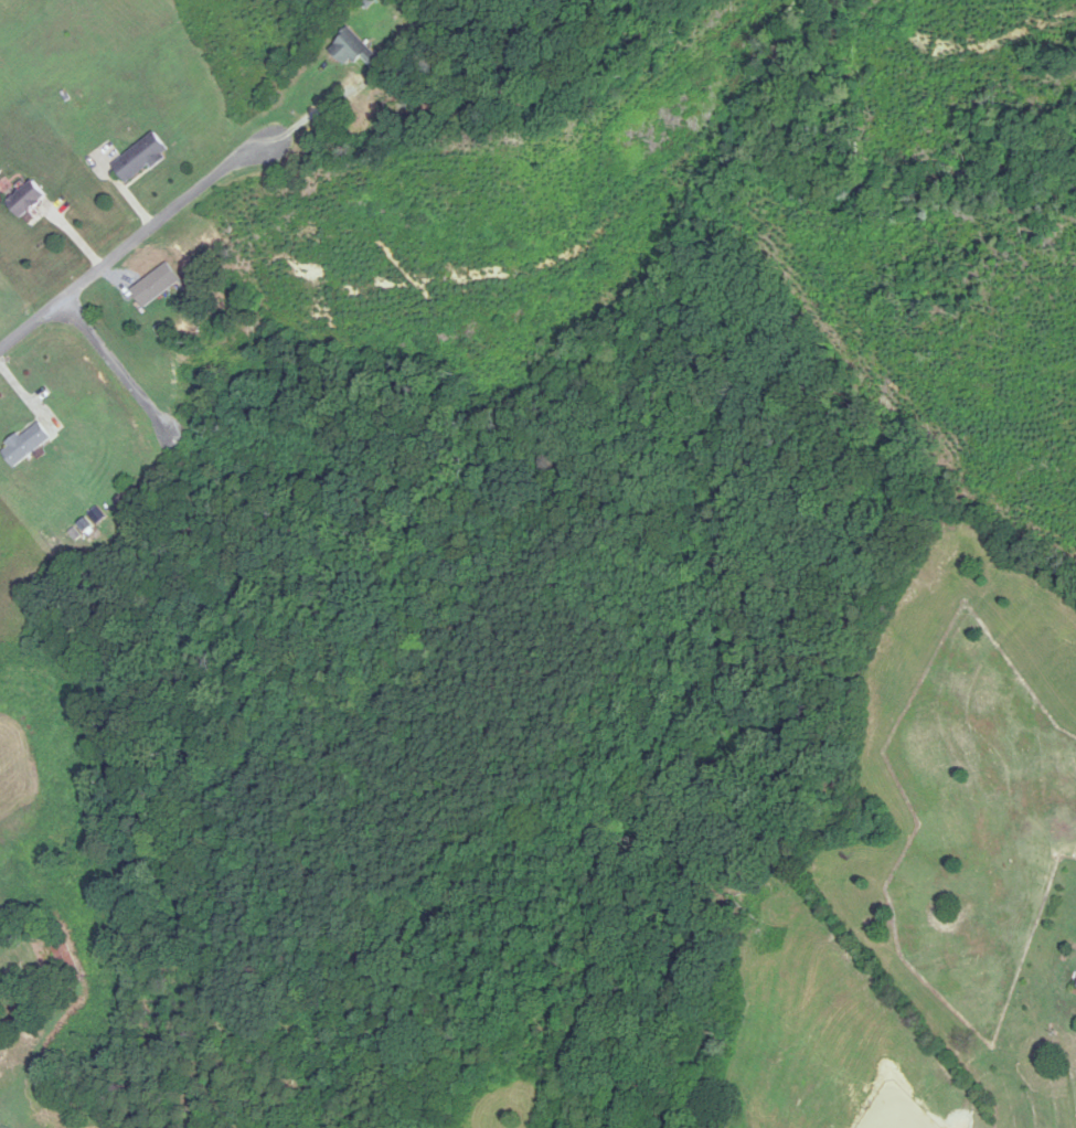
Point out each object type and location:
building: (355, 51)
building: (142, 158)
building: (30, 200)
road: (145, 234)
road: (140, 391)
building: (28, 444)

